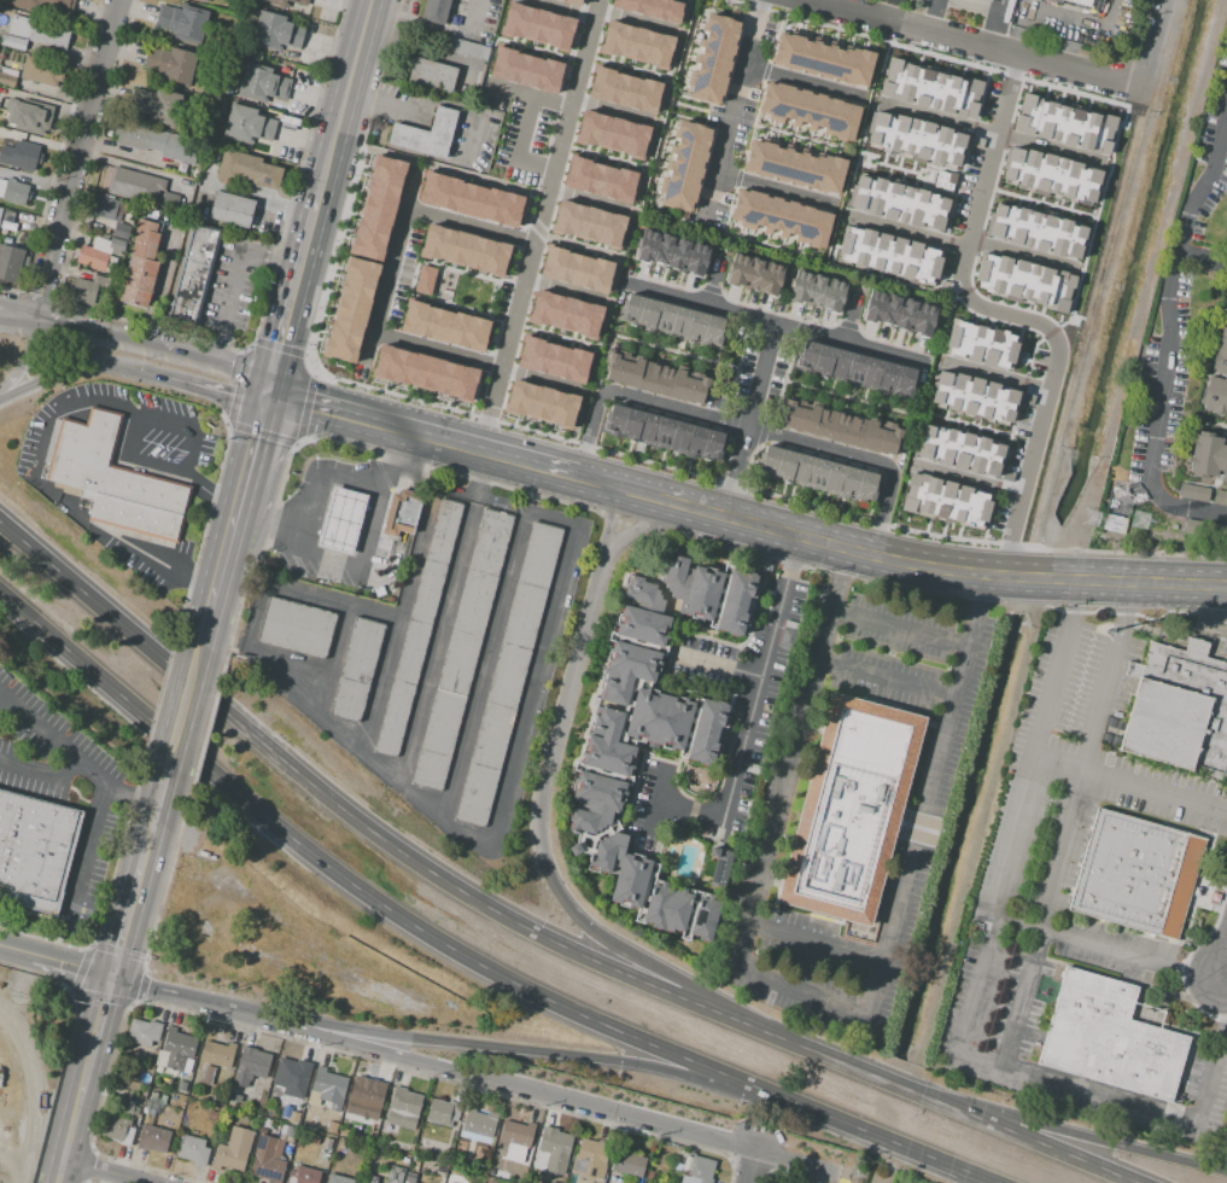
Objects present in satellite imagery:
building: (204, 0)
building: (984, 0)
building: (571, 1)
building: (284, 2)
building: (1079, 2)
building: (43, 5)
road: (974, 6)
road: (557, 8)
building: (650, 8)
road: (887, 8)
building: (433, 10)
road: (933, 13)
road: (1080, 18)
road: (636, 21)
road: (993, 22)
building: (182, 23)
building: (537, 25)
road: (436, 27)
road: (1023, 28)
building: (275, 31)
building: (33, 34)
road: (514, 42)
road: (986, 42)
road: (1157, 42)
building: (636, 45)
road: (887, 45)
building: (464, 48)
road: (431, 53)
building: (713, 58)
building: (823, 58)
building: (177, 65)
road: (624, 65)
building: (525, 69)
building: (41, 71)
building: (431, 74)
building: (7, 81)
road: (804, 81)
building: (261, 83)
building: (929, 88)
building: (624, 89)
parking lot: (398, 91)
road: (525, 93)
road: (346, 95)
road: (684, 97)
road: (432, 100)
parking lot: (491, 100)
building: (158, 105)
road: (613, 110)
building: (808, 110)
road: (712, 111)
road: (731, 112)
road: (754, 115)
road: (679, 116)
building: (33, 121)
building: (1063, 122)
building: (247, 126)
parking lot: (539, 130)
parking lot: (508, 132)
road: (989, 132)
building: (425, 134)
building: (612, 134)
road: (662, 134)
road: (795, 135)
parking lot: (455, 139)
building: (915, 139)
building: (153, 141)
parking lot: (486, 141)
road: (968, 142)
road: (519, 145)
road: (404, 150)
road: (125, 151)
building: (4, 153)
road: (77, 155)
building: (24, 156)
road: (601, 156)
building: (684, 164)
road: (433, 165)
building: (794, 165)
road: (895, 167)
road: (940, 167)
building: (249, 169)
road: (1219, 171)
building: (1050, 173)
building: (11, 174)
parking lot: (519, 175)
building: (598, 179)
building: (943, 180)
building: (135, 185)
road: (776, 188)
road: (937, 190)
building: (13, 192)
building: (169, 199)
building: (469, 199)
road: (590, 200)
road: (1038, 202)
building: (898, 203)
building: (378, 208)
building: (105, 209)
building: (232, 209)
road: (1094, 214)
building: (779, 217)
road: (983, 217)
building: (8, 221)
road: (468, 223)
building: (588, 223)
road: (537, 225)
building: (1035, 228)
building: (121, 231)
road: (906, 231)
road: (515, 234)
road: (625, 237)
road: (761, 241)
road: (569, 243)
building: (116, 246)
building: (464, 250)
building: (94, 252)
building: (674, 253)
building: (888, 253)
road: (1021, 255)
road: (1200, 257)
building: (10, 262)
road: (388, 262)
building: (140, 266)
building: (575, 269)
parking lot: (403, 273)
building: (194, 275)
road: (236, 275)
road: (413, 276)
building: (755, 276)
building: (423, 279)
building: (1023, 281)
road: (709, 289)
road: (566, 290)
road: (296, 291)
building: (84, 292)
park: (471, 292)
building: (818, 292)
road: (954, 296)
road: (951, 297)
parking lot: (499, 299)
road: (18, 304)
building: (350, 309)
road: (777, 313)
building: (900, 313)
building: (565, 314)
road: (18, 315)
road: (1010, 315)
building: (672, 321)
road: (775, 322)
road: (1205, 322)
building: (444, 325)
road: (847, 326)
road: (796, 328)
road: (771, 332)
road: (554, 334)
road: (1169, 337)
road: (158, 342)
building: (980, 344)
road: (660, 348)
road: (436, 349)
road: (28, 354)
road: (1198, 356)
building: (553, 359)
road: (82, 363)
parking lot: (358, 371)
building: (425, 372)
building: (857, 373)
road: (993, 375)
building: (1217, 375)
building: (656, 379)
road: (542, 380)
road: (220, 390)
traffic signals: (271, 392)
building: (972, 395)
road: (842, 396)
road: (1018, 398)
building: (541, 403)
road: (70, 409)
road: (748, 419)
road: (966, 424)
road: (747, 427)
building: (842, 431)
road: (1191, 432)
road: (425, 433)
building: (664, 437)
building: (959, 449)
road: (253, 455)
building: (1208, 456)
road: (128, 458)
road: (420, 462)
building: (106, 464)
road: (1217, 468)
building: (818, 477)
road: (965, 478)
road: (598, 482)
road: (319, 485)
road: (1202, 485)
road: (212, 489)
building: (1193, 493)
building: (1220, 497)
building: (943, 501)
road: (671, 502)
building: (401, 512)
building: (133, 517)
power tower: (1093, 518)
power tower: (1137, 520)
building: (341, 521)
gas station: (341, 521)
building: (1111, 523)
road: (648, 524)
building: (1205, 531)
road: (168, 558)
road: (363, 561)
road: (393, 573)
road: (971, 575)
road: (723, 579)
road: (221, 583)
road: (83, 588)
road: (661, 590)
road: (444, 619)
road: (678, 627)
building: (297, 629)
building: (417, 630)
road: (901, 631)
road: (641, 643)
building: (462, 649)
road: (75, 658)
road: (333, 664)
road: (714, 664)
road: (484, 668)
building: (357, 670)
building: (508, 675)
road: (759, 676)
road: (194, 680)
road: (886, 684)
road: (380, 688)
road: (626, 705)
road: (610, 706)
building: (1178, 709)
road: (185, 715)
building: (650, 727)
road: (176, 741)
road: (684, 744)
road: (729, 746)
road: (677, 759)
road: (74, 762)
building: (753, 767)
road: (606, 774)
road: (41, 775)
road: (1130, 786)
road: (654, 797)
road: (415, 800)
road: (539, 802)
road: (688, 809)
building: (849, 810)
road: (690, 815)
road: (156, 822)
road: (1067, 826)
road: (608, 828)
road: (652, 835)
road: (580, 845)
building: (35, 851)
building: (714, 852)
road: (92, 853)
building: (1135, 875)
road: (705, 878)
road: (645, 885)
road: (467, 887)
road: (129, 919)
road: (286, 934)
road: (223, 940)
road: (816, 946)
road: (1109, 948)
road: (14, 950)
road: (71, 966)
road: (1226, 975)
traffic signals: (115, 978)
road: (1226, 978)
road: (1226, 983)
road: (974, 989)
road: (542, 991)
road: (818, 996)
road: (226, 1007)
building: (142, 1032)
road: (99, 1033)
building: (1105, 1039)
building: (174, 1049)
building: (217, 1054)
road: (541, 1059)
building: (250, 1066)
building: (293, 1072)
building: (208, 1076)
building: (181, 1086)
building: (277, 1086)
building: (329, 1086)
building: (288, 1089)
railway: (29, 1092)
road: (547, 1092)
building: (234, 1097)
building: (367, 1098)
road: (942, 1101)
building: (128, 1107)
railway: (16, 1108)
building: (403, 1108)
building: (442, 1112)
building: (212, 1115)
building: (293, 1117)
building: (479, 1121)
building: (265, 1124)
building: (117, 1129)
building: (285, 1130)
building: (343, 1132)
building: (518, 1132)
road: (71, 1136)
building: (152, 1138)
building: (314, 1140)
building: (345, 1143)
building: (327, 1146)
road: (1105, 1146)
building: (555, 1148)
building: (193, 1149)
building: (234, 1150)
building: (497, 1150)
building: (268, 1159)
building: (404, 1161)
building: (590, 1161)
road: (799, 1161)
building: (629, 1162)
road: (750, 1166)
building: (442, 1169)
road: (947, 1169)
road: (959, 1169)
road: (106, 1171)
building: (699, 1171)
building: (303, 1175)
building: (450, 1178)
building: (338, 1179)
building: (369, 1182)
building: (402, 1182)
building: (409, 1182)
building: (553, 1182)
building: (779, 1182)
building: (784, 1182)

